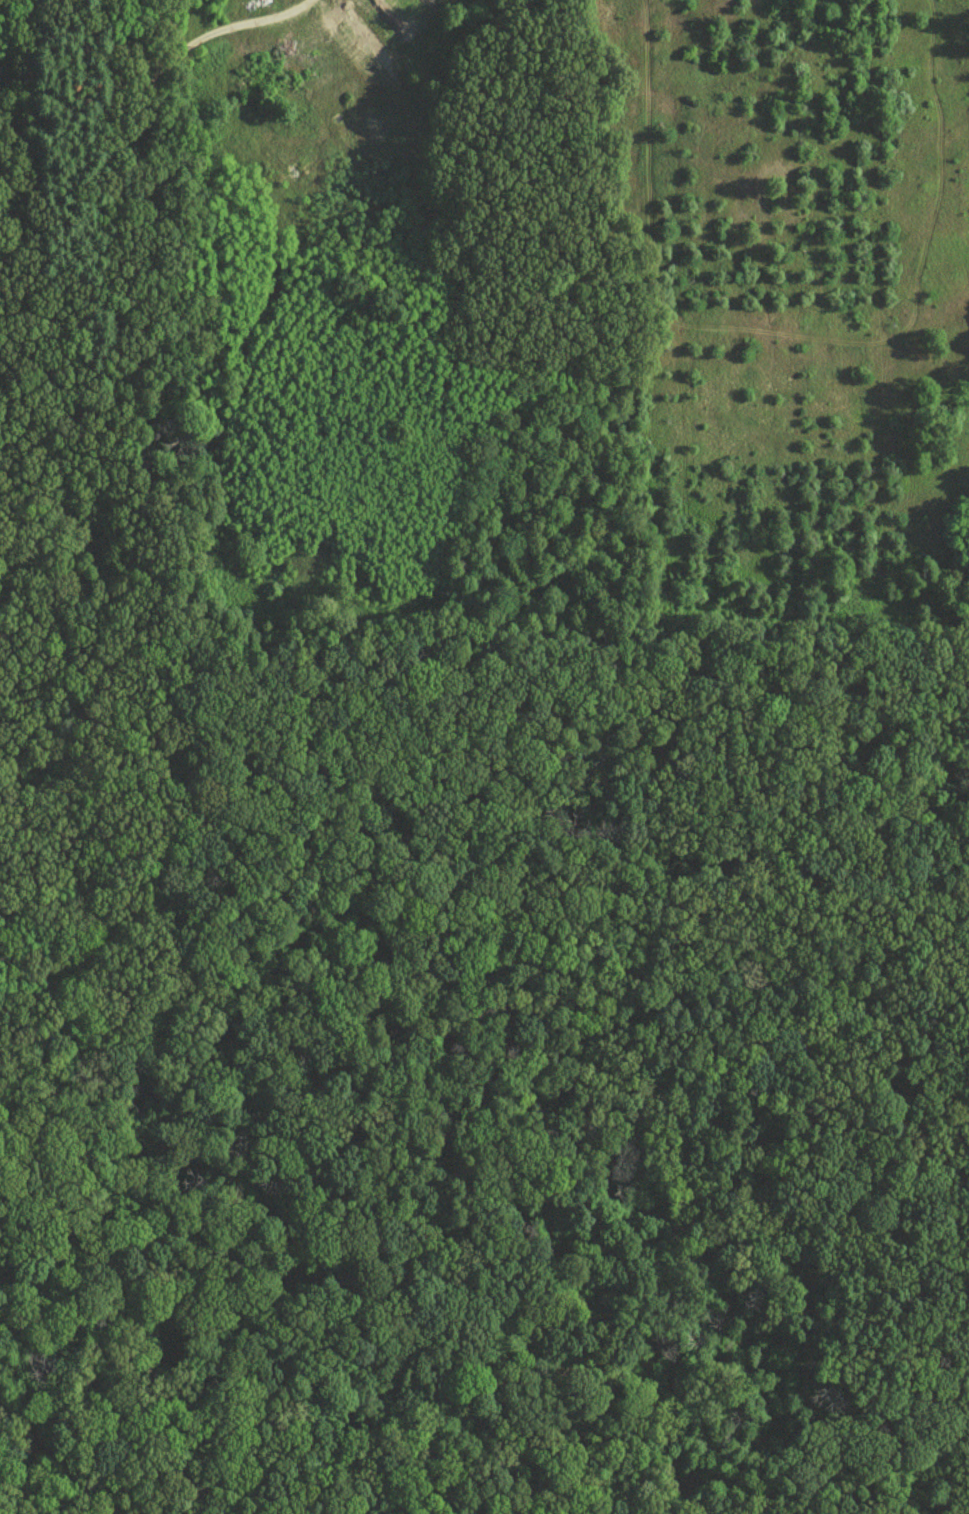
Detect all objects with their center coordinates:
road: (134, 406)
road: (481, 696)

